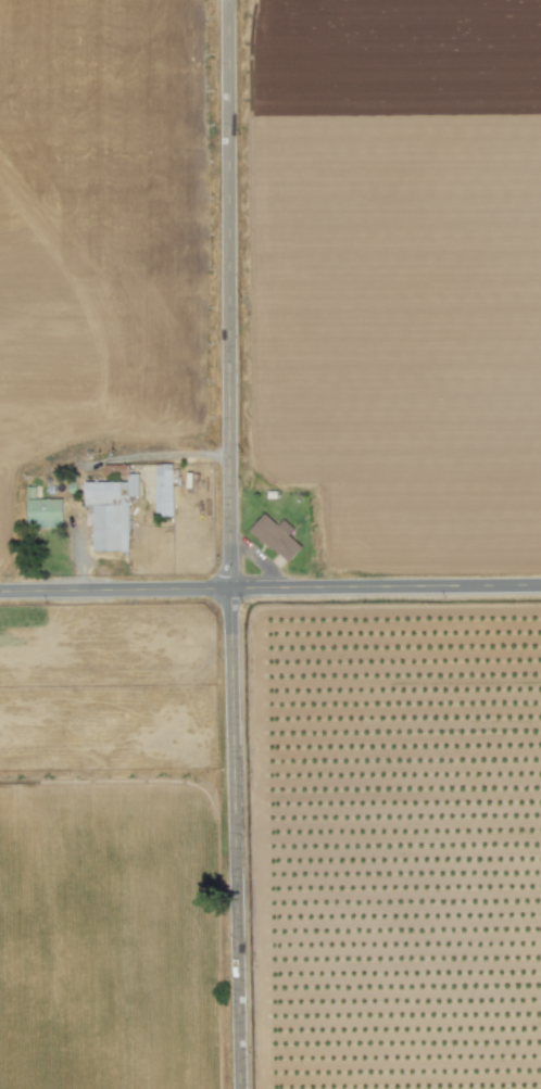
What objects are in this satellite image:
road: (154, 455)
building: (162, 490)
building: (110, 511)
building: (43, 514)
building: (275, 536)
road: (226, 544)
road: (269, 590)

